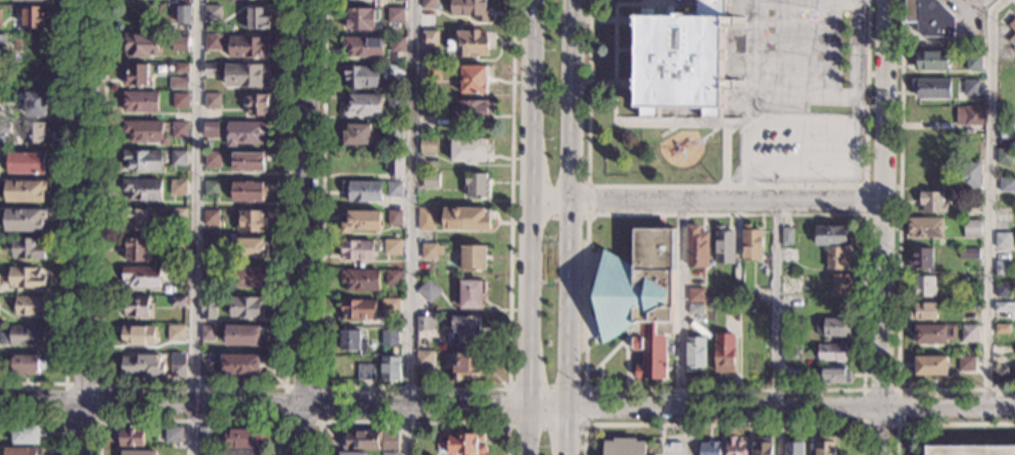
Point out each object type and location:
building: (31, 0)
building: (963, 0)
building: (364, 1)
road: (683, 1)
road: (1013, 1)
building: (429, 4)
building: (469, 9)
building: (211, 13)
building: (395, 15)
building: (0, 17)
building: (181, 17)
building: (34, 18)
building: (929, 18)
building: (257, 19)
building: (361, 19)
road: (606, 20)
building: (1012, 25)
building: (430, 39)
building: (1012, 40)
building: (180, 42)
building: (212, 42)
building: (397, 43)
building: (470, 43)
building: (140, 45)
building: (364, 46)
building: (248, 47)
building: (3, 49)
building: (931, 60)
building: (681, 61)
building: (973, 63)
building: (182, 68)
building: (210, 69)
building: (396, 70)
building: (432, 73)
building: (137, 75)
building: (246, 75)
building: (364, 77)
building: (474, 80)
building: (178, 83)
road: (605, 83)
building: (971, 87)
building: (931, 88)
building: (180, 100)
building: (211, 101)
building: (395, 101)
road: (571, 101)
building: (141, 102)
building: (256, 104)
building: (36, 105)
building: (363, 106)
building: (428, 108)
building: (471, 110)
road: (614, 116)
building: (969, 116)
road: (829, 125)
building: (5, 127)
building: (210, 129)
building: (1007, 129)
building: (179, 130)
building: (394, 131)
building: (146, 132)
building: (968, 132)
building: (34, 133)
building: (246, 133)
road: (710, 133)
building: (357, 135)
building: (428, 145)
parking lot: (800, 148)
building: (468, 150)
building: (1004, 156)
building: (177, 158)
building: (212, 159)
building: (142, 160)
building: (247, 161)
building: (26, 163)
building: (394, 164)
building: (972, 174)
building: (430, 180)
building: (1007, 184)
building: (477, 185)
road: (727, 186)
road: (868, 187)
building: (177, 188)
building: (211, 188)
building: (142, 189)
building: (394, 189)
building: (25, 191)
building: (248, 191)
building: (362, 191)
road: (587, 200)
road: (989, 201)
building: (932, 202)
road: (551, 203)
road: (727, 203)
building: (972, 212)
building: (178, 215)
road: (548, 215)
building: (210, 217)
building: (134, 218)
building: (394, 218)
building: (425, 219)
building: (466, 219)
building: (24, 221)
building: (252, 221)
building: (362, 221)
road: (66, 224)
road: (85, 227)
road: (196, 227)
road: (304, 227)
road: (409, 227)
road: (532, 227)
road: (884, 227)
building: (925, 228)
building: (972, 229)
building: (832, 235)
building: (786, 236)
building: (1003, 240)
building: (752, 243)
building: (209, 245)
building: (177, 246)
building: (724, 246)
building: (392, 247)
building: (697, 247)
building: (248, 248)
building: (25, 249)
building: (135, 250)
building: (358, 250)
building: (429, 252)
road: (898, 253)
building: (969, 253)
building: (790, 254)
building: (838, 257)
building: (473, 258)
building: (921, 258)
building: (1002, 268)
building: (177, 274)
building: (209, 276)
building: (140, 277)
building: (248, 277)
building: (393, 277)
building: (27, 278)
building: (361, 280)
building: (970, 282)
building: (843, 285)
building: (924, 286)
building: (429, 290)
building: (1003, 290)
building: (472, 294)
building: (736, 294)
building: (696, 295)
building: (641, 299)
building: (707, 299)
building: (177, 301)
building: (29, 306)
building: (136, 306)
building: (207, 306)
building: (391, 306)
building: (246, 307)
road: (680, 307)
road: (775, 307)
building: (1004, 307)
building: (358, 309)
building: (696, 309)
building: (923, 311)
building: (426, 323)
building: (795, 323)
building: (833, 327)
road: (567, 328)
building: (1002, 328)
building: (471, 331)
building: (206, 333)
building: (176, 334)
building: (934, 334)
building: (969, 334)
building: (243, 335)
building: (23, 336)
building: (138, 336)
building: (389, 338)
road: (625, 338)
building: (350, 340)
building: (724, 352)
building: (832, 352)
building: (695, 353)
building: (796, 353)
building: (425, 358)
building: (27, 363)
building: (966, 363)
building: (240, 364)
building: (930, 365)
building: (142, 366)
building: (178, 366)
building: (466, 366)
building: (206, 367)
building: (390, 368)
building: (365, 371)
building: (796, 372)
building: (835, 374)
building: (998, 375)
road: (600, 376)
road: (192, 386)
road: (318, 388)
road: (414, 389)
road: (861, 390)
road: (862, 390)
road: (507, 412)
road: (49, 420)
road: (99, 420)
road: (190, 421)
road: (411, 424)
road: (939, 424)
road: (507, 425)
road: (722, 425)
road: (688, 433)
building: (25, 434)
building: (173, 434)
building: (205, 435)
building: (129, 436)
building: (245, 439)
building: (363, 440)
road: (662, 440)
building: (390, 441)
building: (461, 443)
building: (735, 446)
building: (762, 446)
building: (825, 446)
building: (625, 447)
building: (794, 447)
building: (709, 448)
building: (971, 450)
building: (23, 451)
building: (206, 452)
building: (243, 452)
building: (138, 453)
building: (352, 453)
building: (389, 454)

